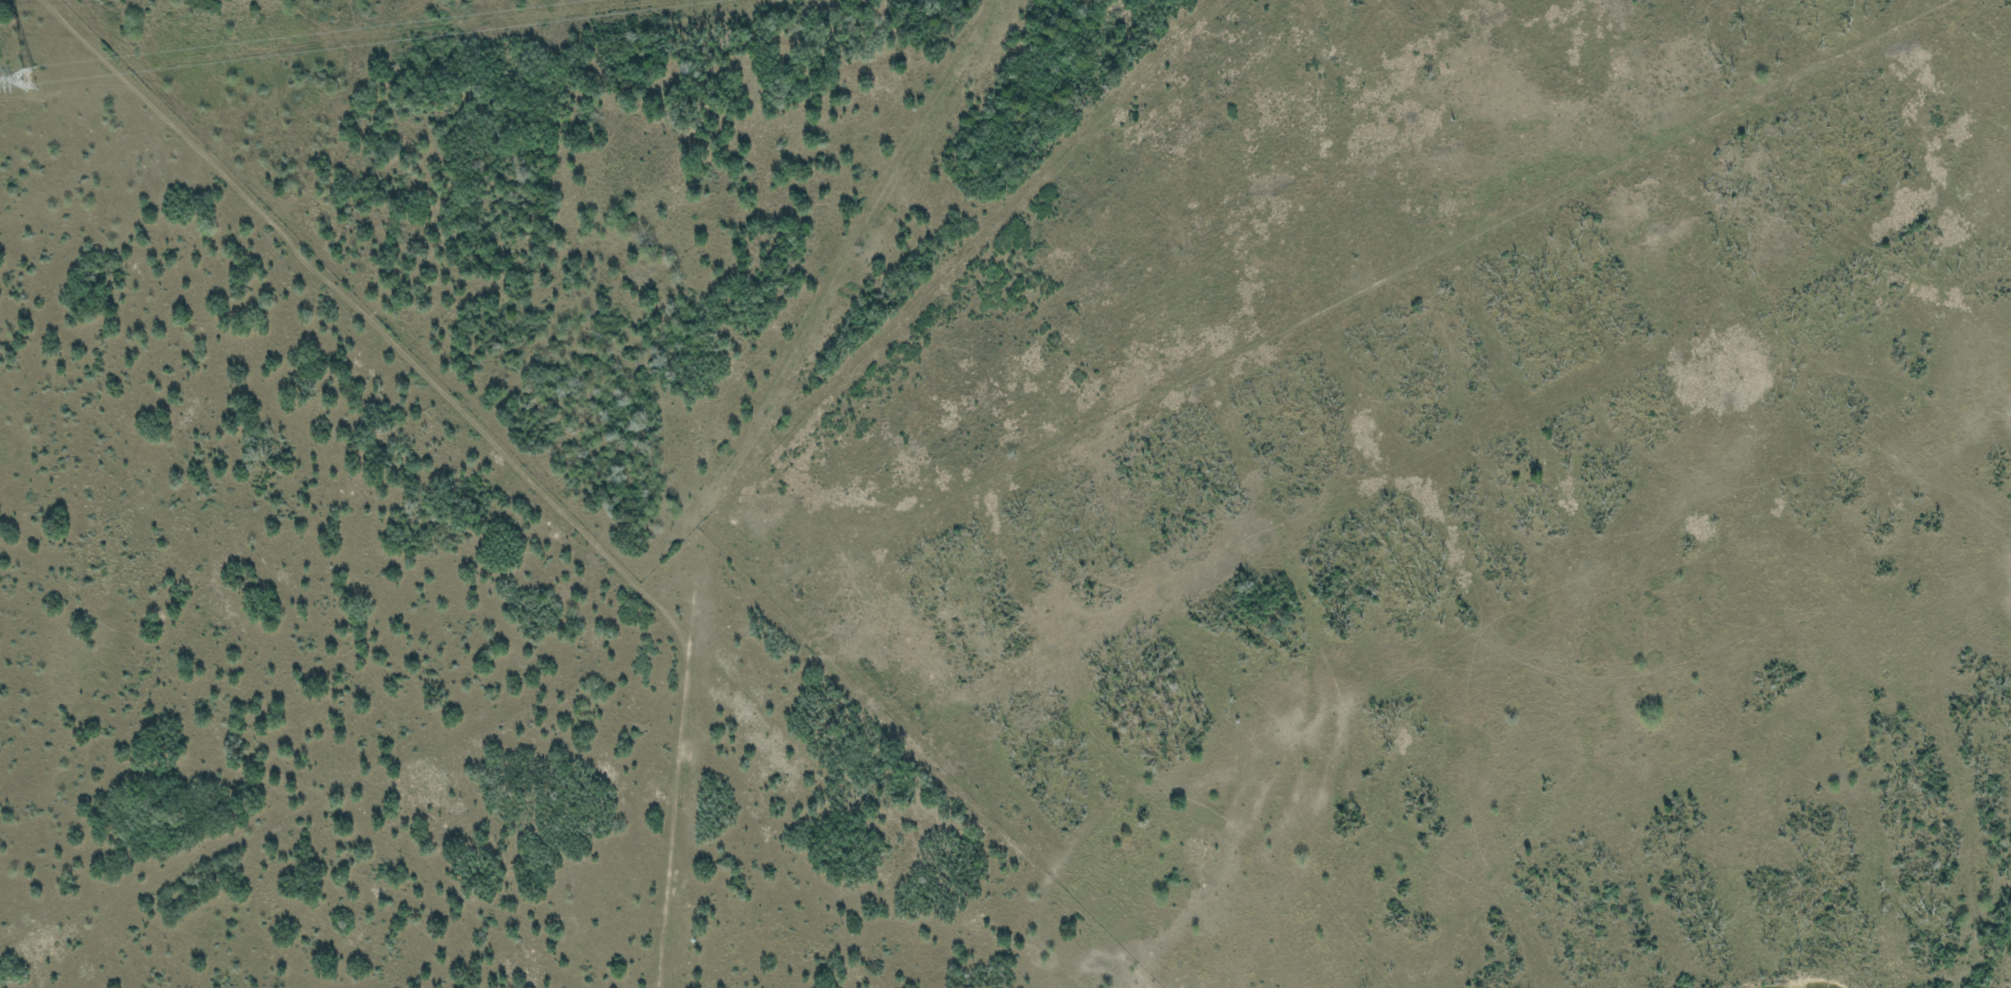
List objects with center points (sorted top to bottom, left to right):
power tower: (26, 79)

